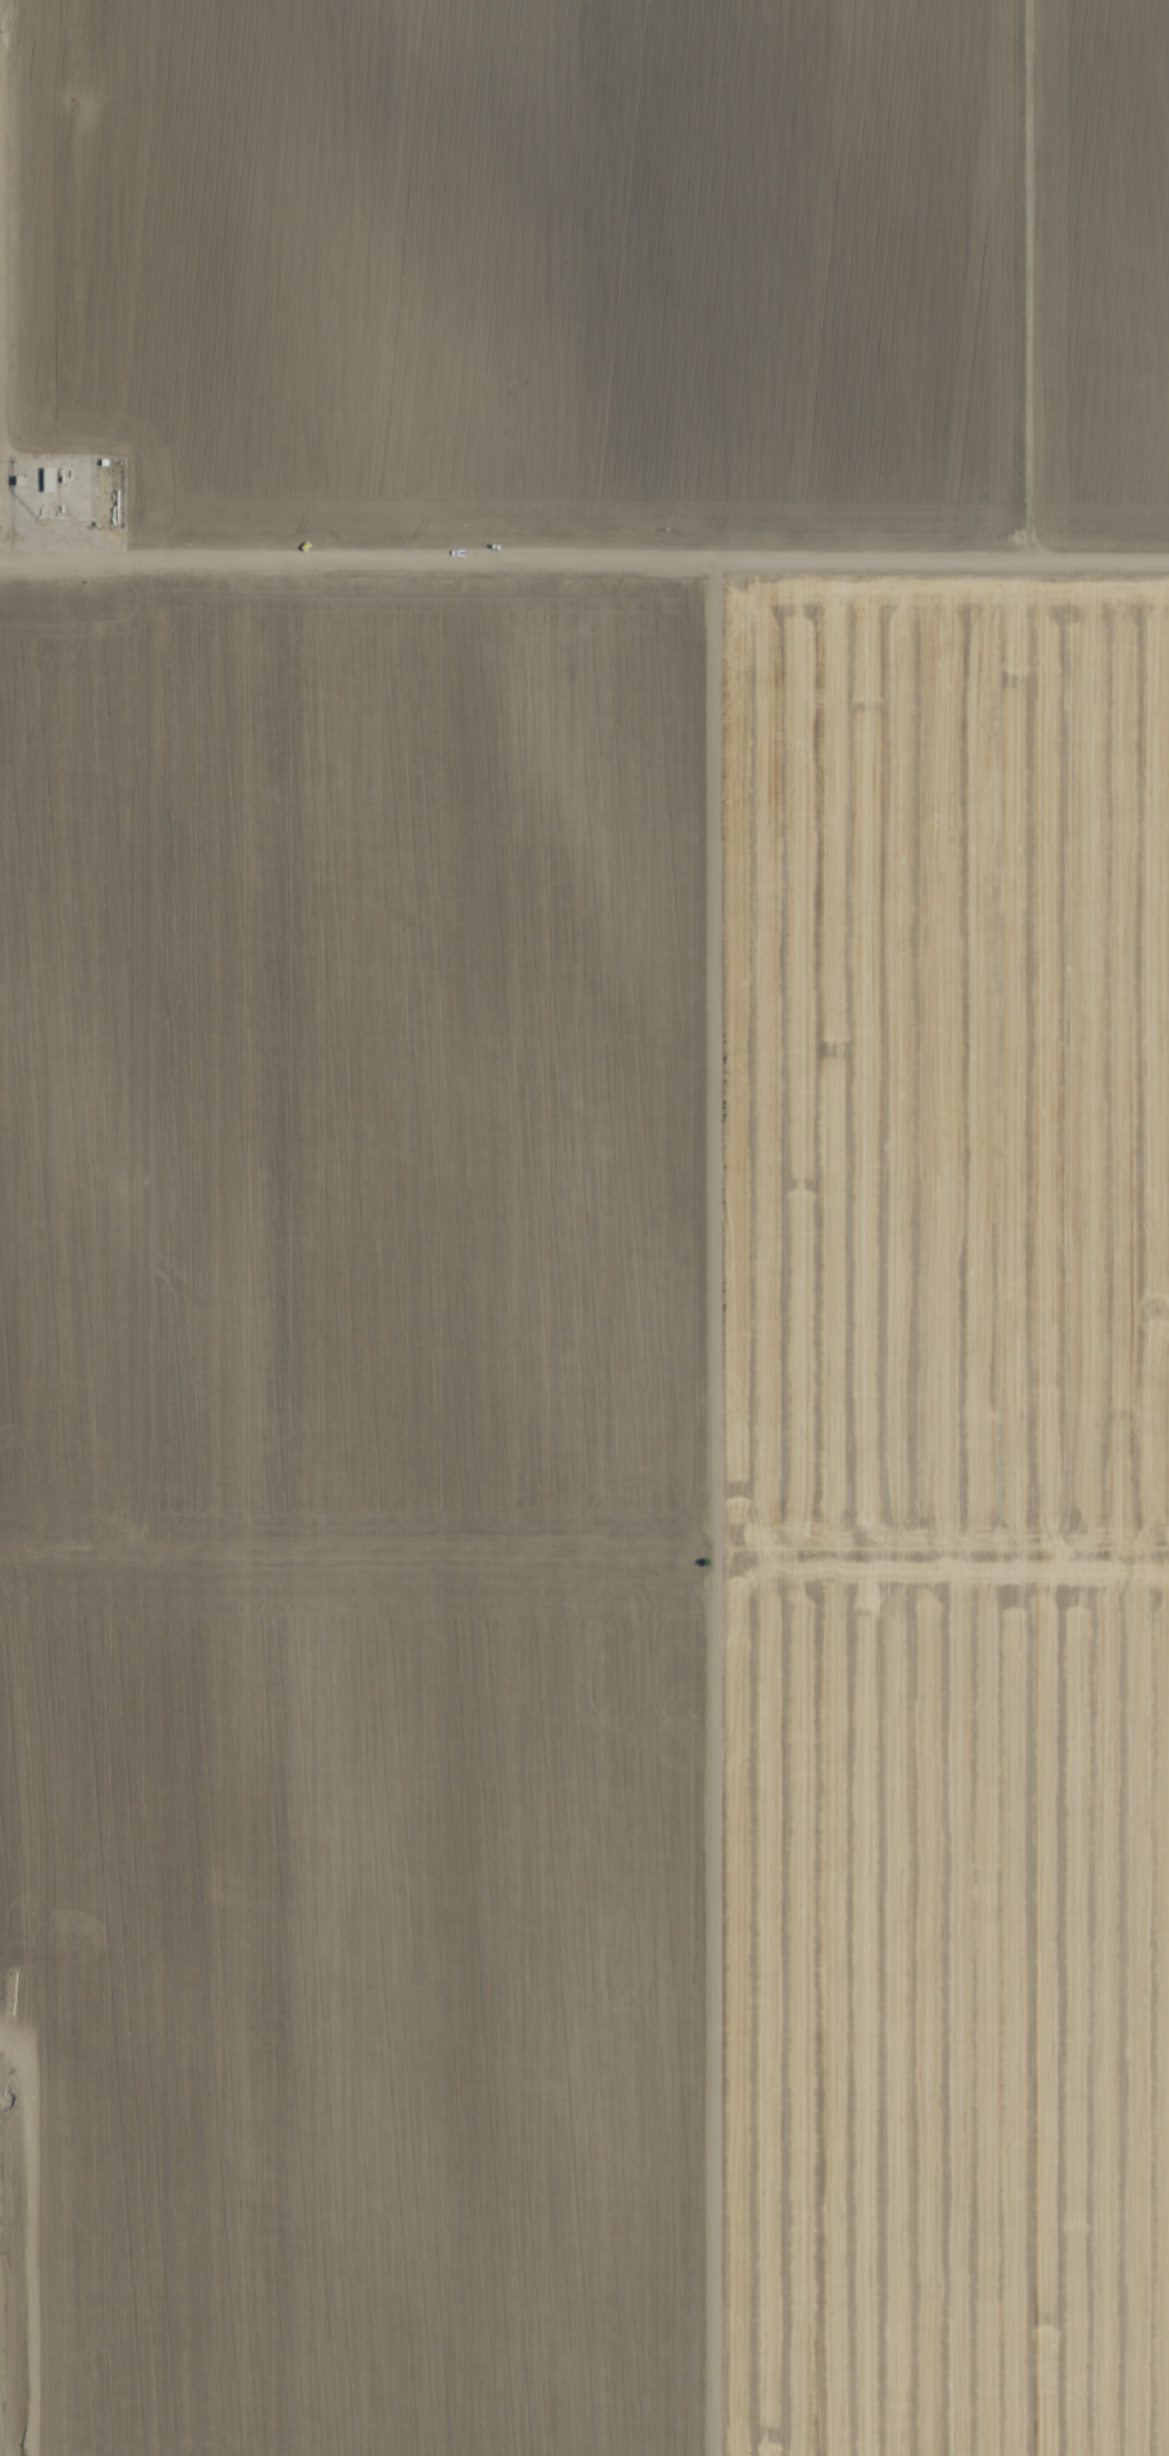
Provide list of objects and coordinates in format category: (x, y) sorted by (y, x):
building: (47, 480)
road: (584, 543)
crop: (586, 1224)

